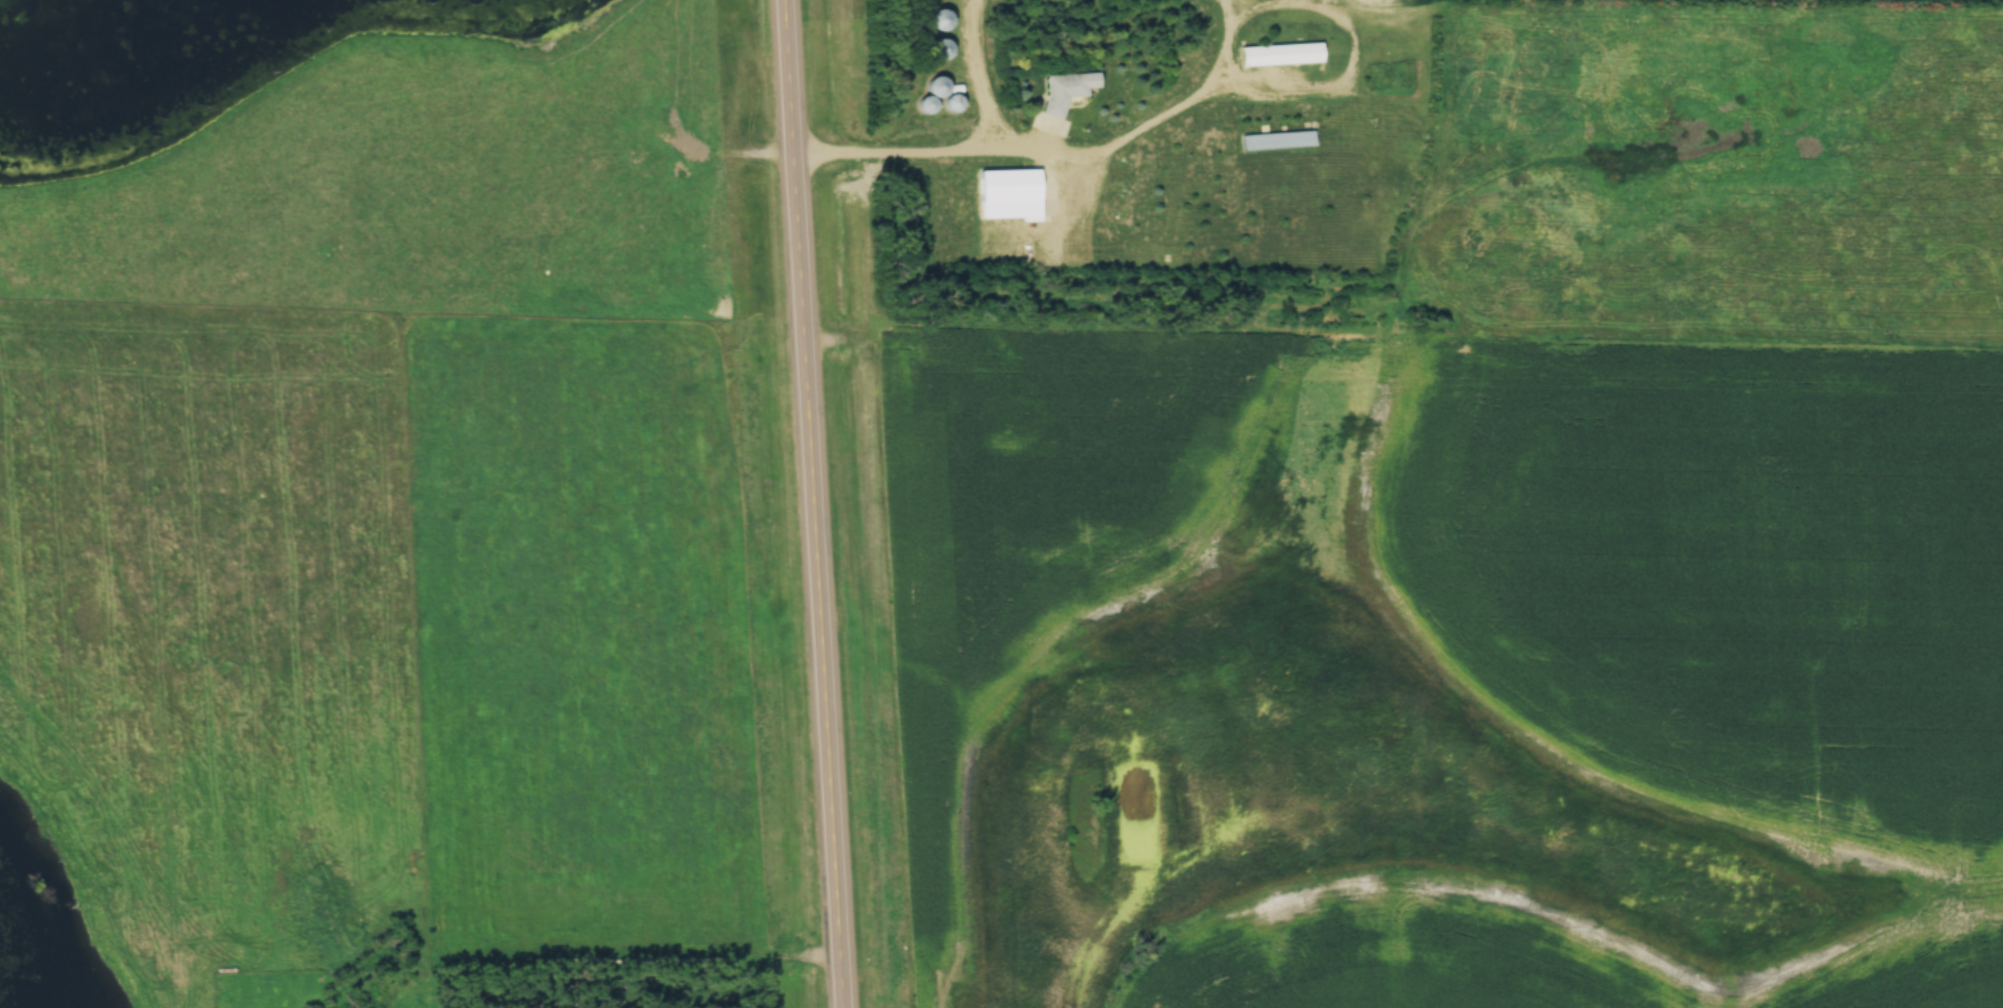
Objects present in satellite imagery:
building: (1279, 54)
road: (981, 76)
building: (1060, 91)
building: (925, 104)
road: (1156, 122)
building: (1276, 141)
road: (899, 153)
building: (1008, 193)
road: (816, 503)

